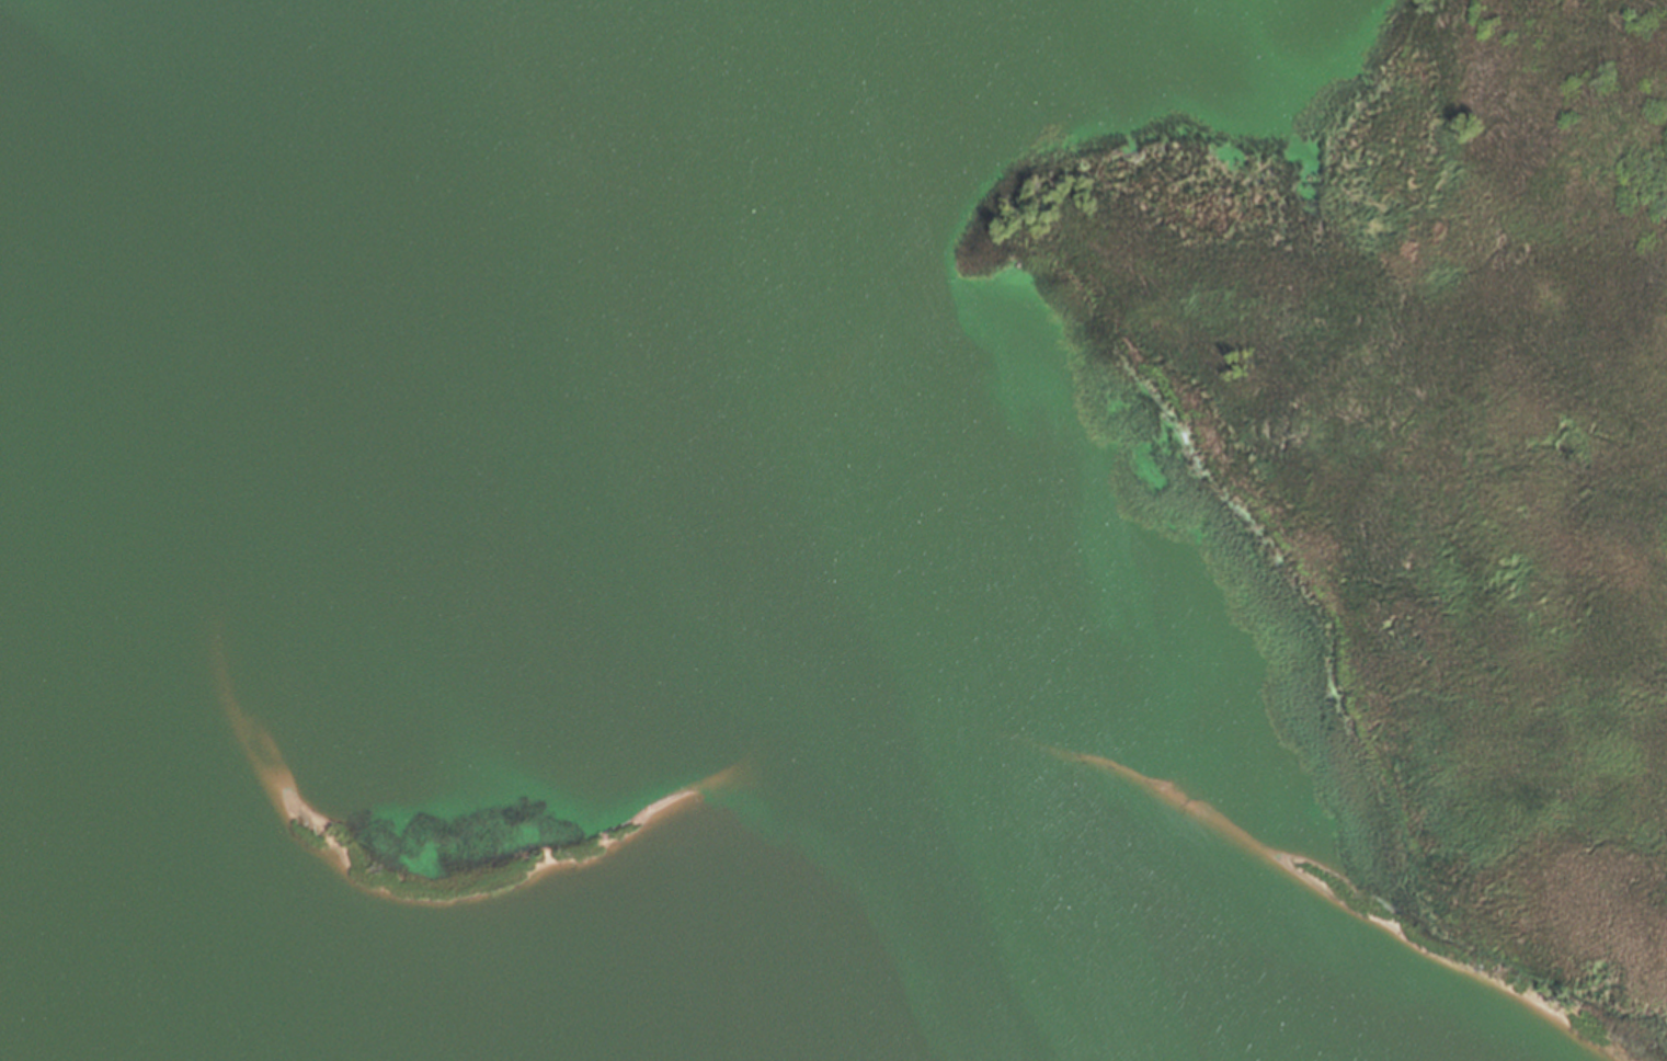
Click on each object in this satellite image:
park: (1355, 190)

